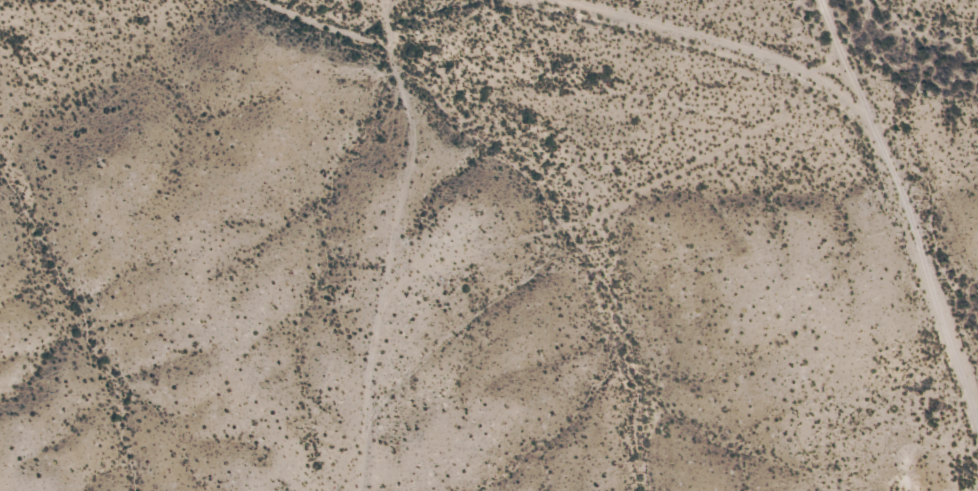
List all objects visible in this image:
road: (907, 200)

